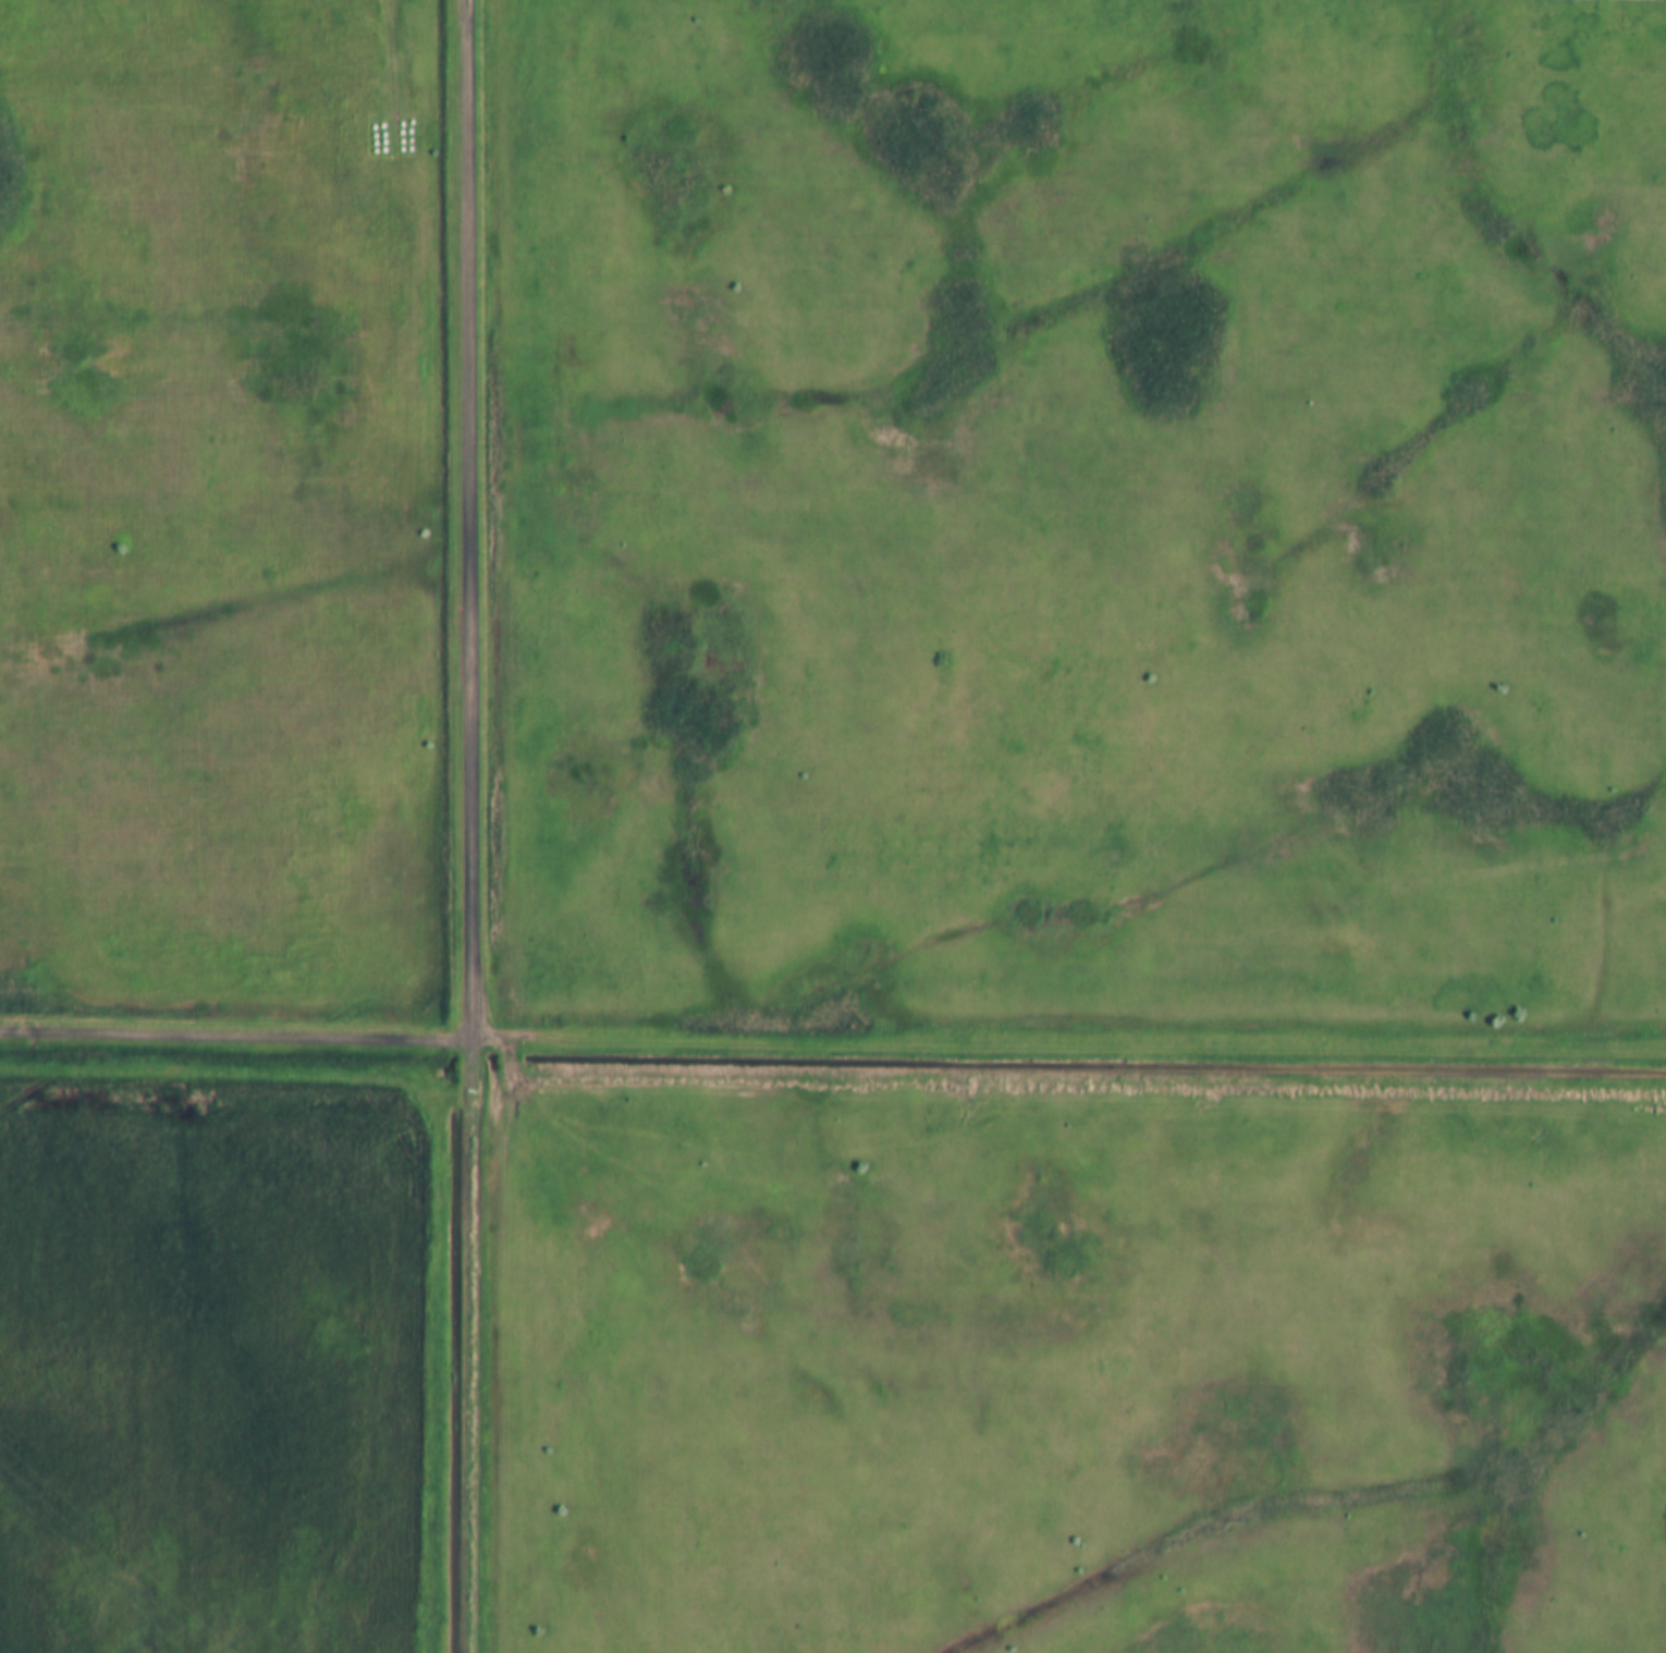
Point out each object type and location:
road: (474, 825)
road: (832, 1045)

